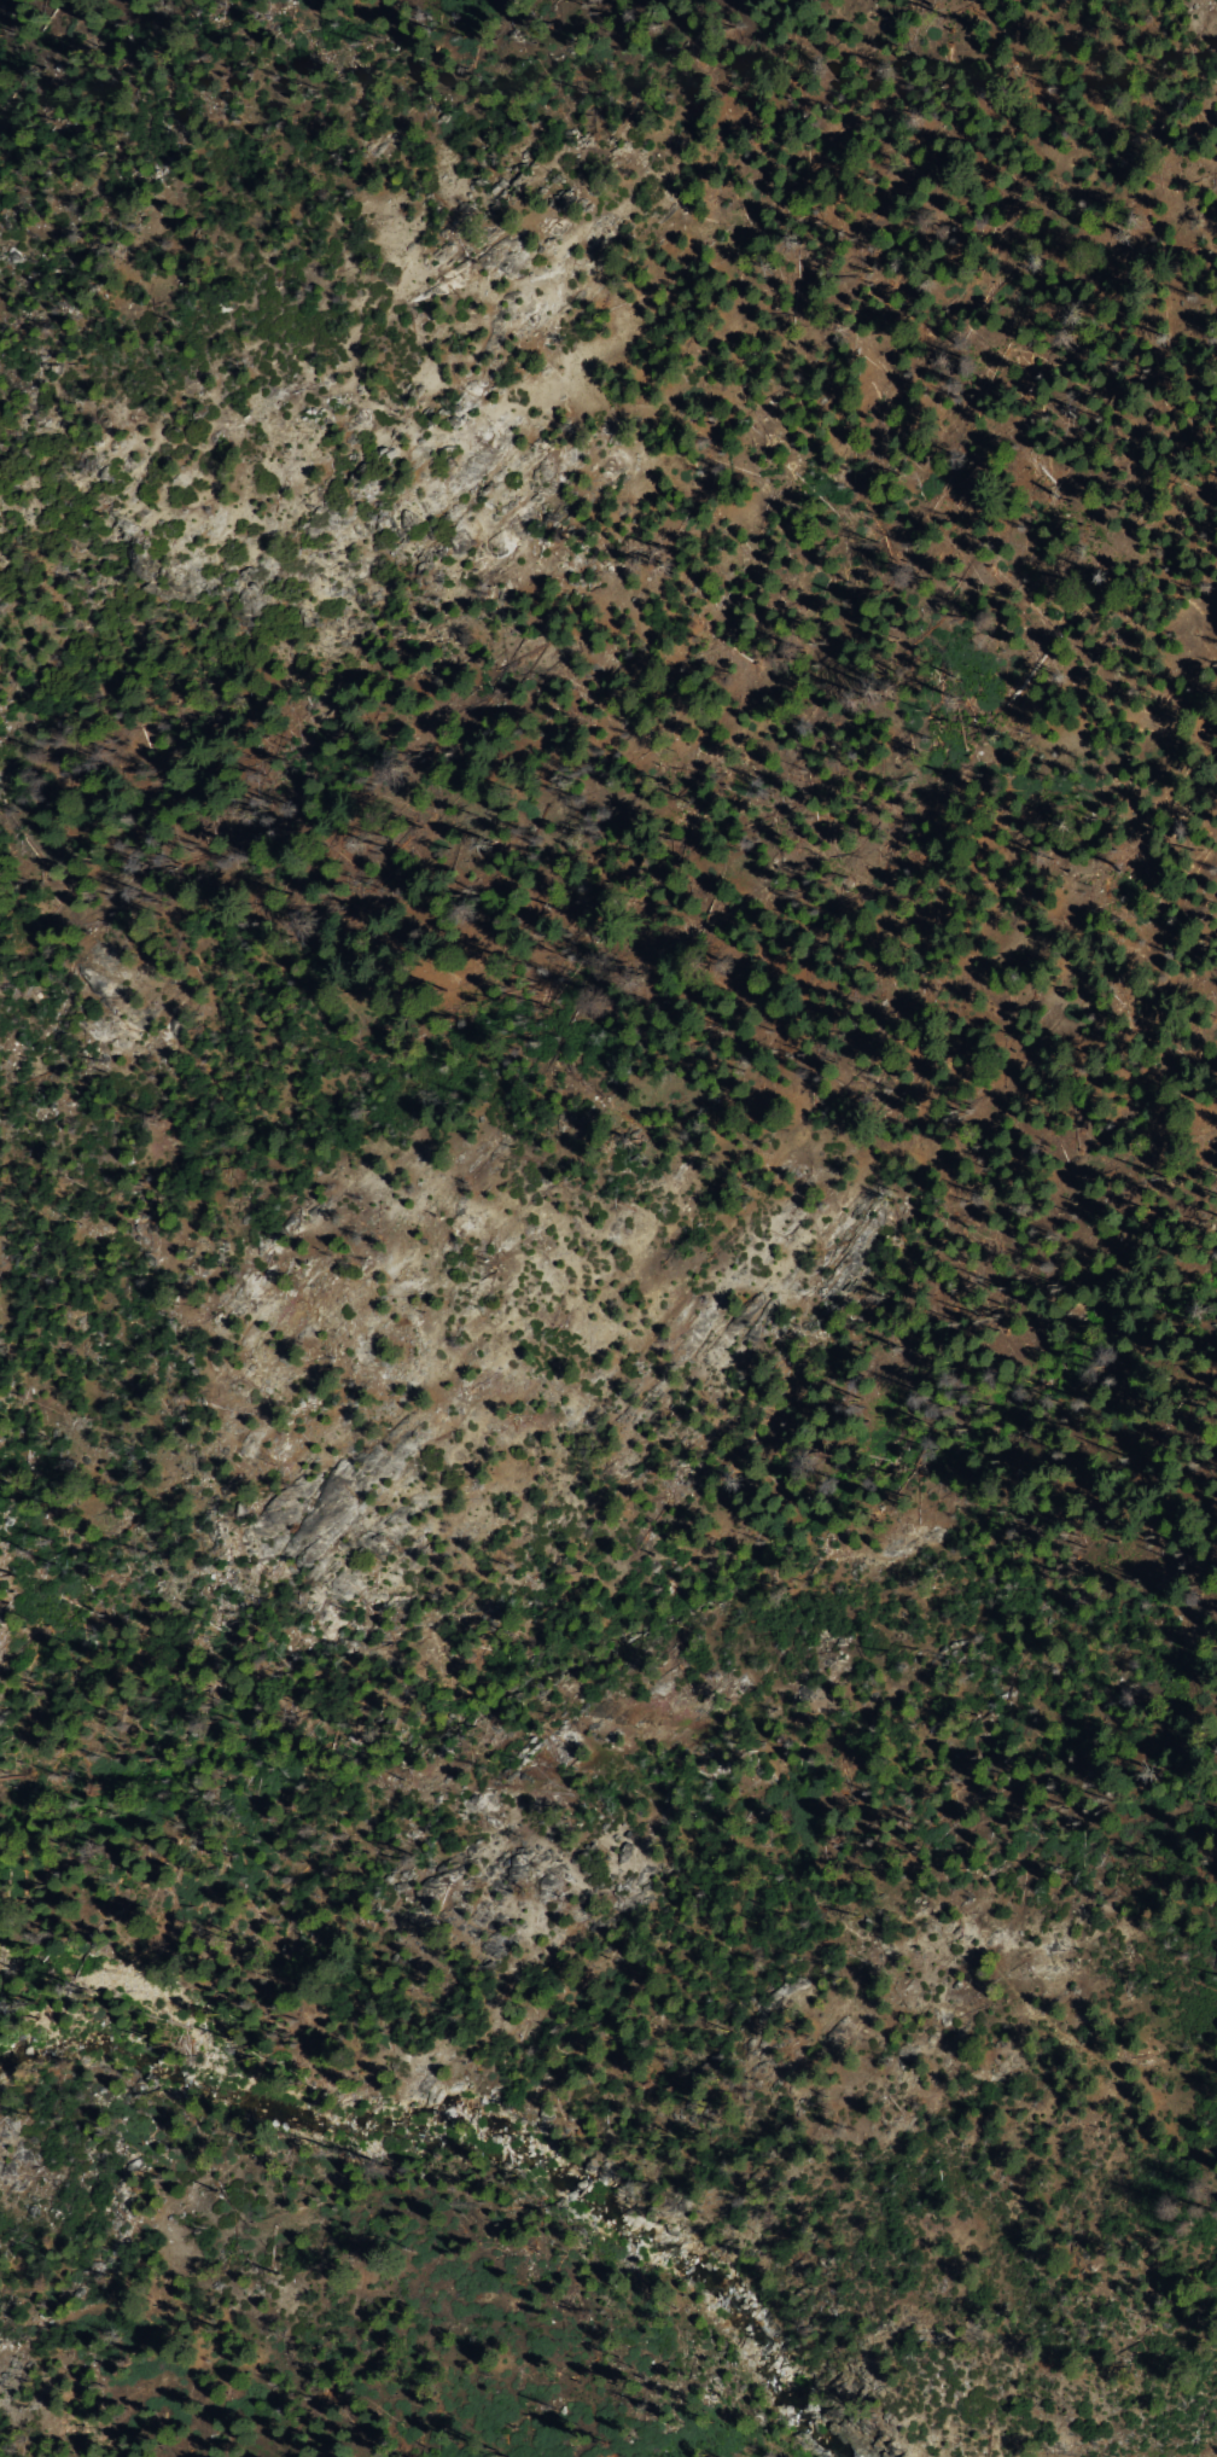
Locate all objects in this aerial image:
road: (594, 1957)

